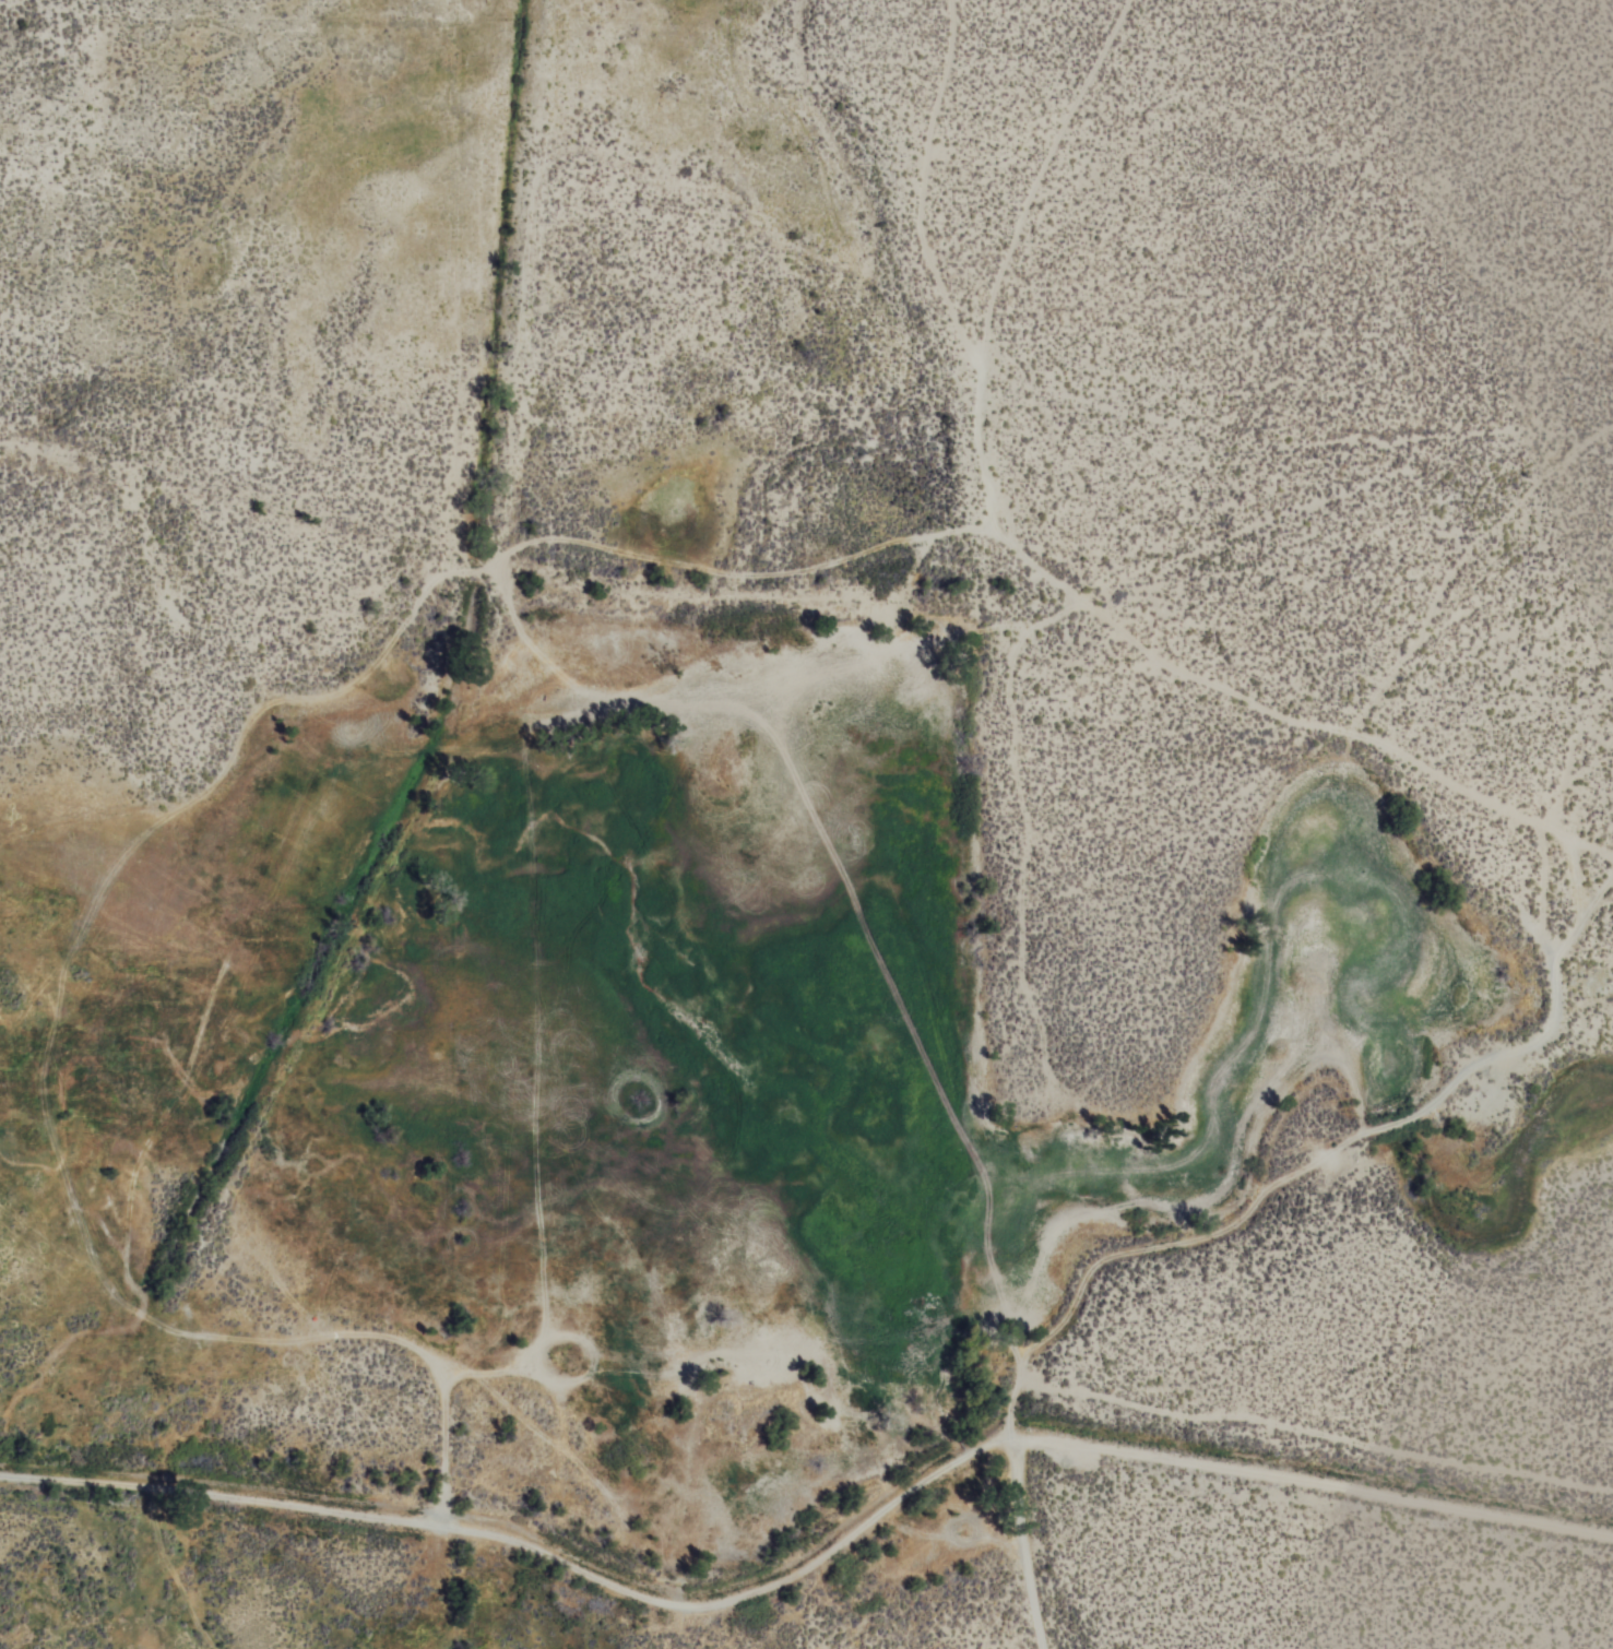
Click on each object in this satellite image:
road: (1312, 1490)
road: (627, 1590)

